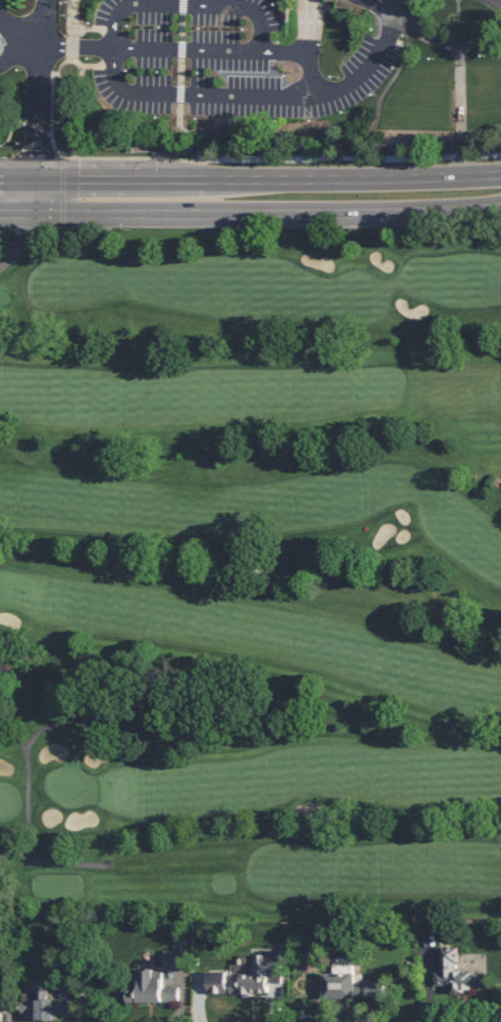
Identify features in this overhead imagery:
road: (496, 4)
road: (389, 8)
road: (394, 8)
road: (30, 26)
road: (309, 27)
road: (95, 29)
road: (74, 31)
road: (424, 31)
road: (483, 36)
road: (125, 44)
road: (21, 54)
parking lot: (238, 66)
road: (98, 68)
park: (253, 80)
road: (78, 81)
road: (182, 91)
road: (220, 95)
road: (462, 112)
road: (38, 117)
traffic signals: (37, 150)
road: (136, 159)
road: (18, 178)
traffic signals: (79, 178)
road: (88, 178)
road: (173, 179)
road: (353, 179)
road: (16, 213)
road: (266, 213)
traffic signals: (27, 235)
road: (23, 243)
road: (7, 315)
park: (251, 574)
road: (1, 688)
road: (72, 720)
road: (33, 814)
building: (176, 954)
building: (457, 971)
building: (246, 975)
building: (349, 981)
building: (150, 986)
building: (44, 1004)
building: (1, 1005)

